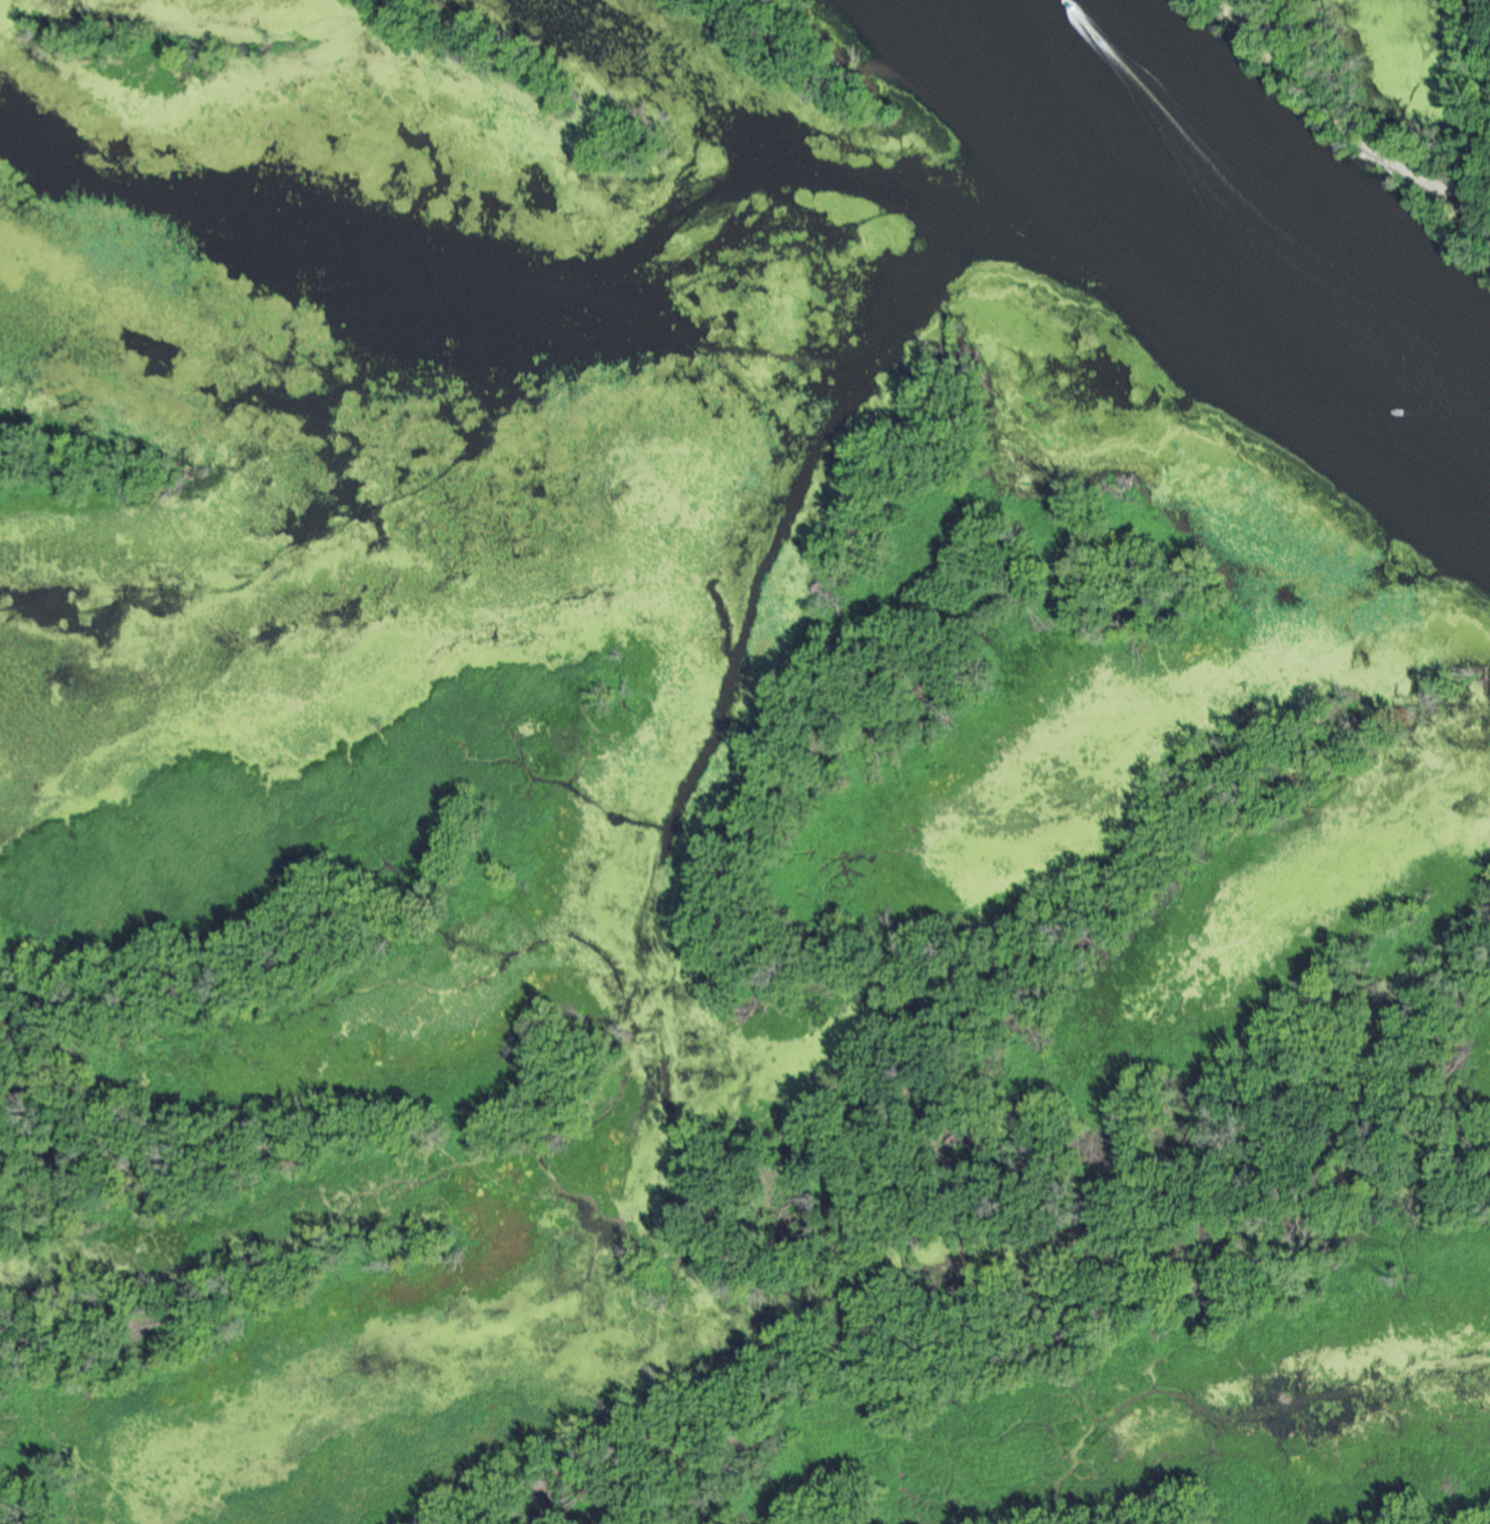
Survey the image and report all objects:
road: (1488, 11)
road: (1351, 132)

